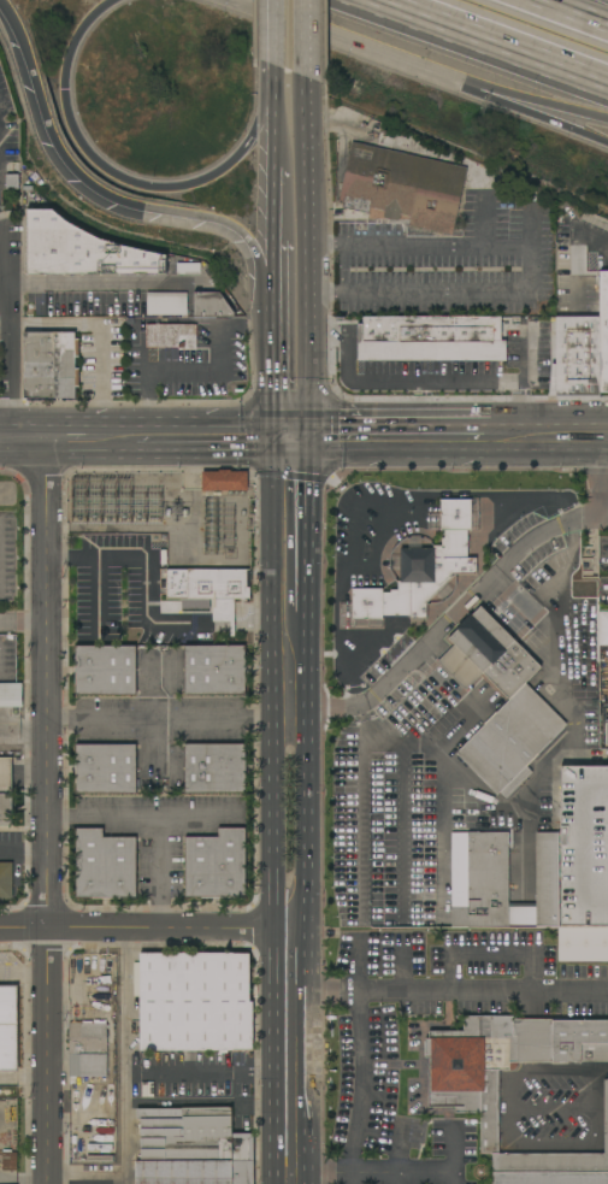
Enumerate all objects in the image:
road: (571, 13)
road: (278, 34)
road: (306, 37)
road: (501, 39)
road: (365, 42)
road: (278, 84)
traffic signals: (63, 90)
road: (544, 101)
road: (532, 108)
road: (264, 120)
road: (279, 135)
road: (596, 137)
road: (430, 149)
road: (92, 155)
road: (77, 172)
building: (402, 187)
road: (281, 206)
parking lot: (340, 224)
road: (595, 241)
road: (420, 247)
road: (311, 248)
building: (81, 251)
road: (265, 255)
road: (281, 255)
building: (188, 269)
road: (84, 285)
road: (466, 296)
building: (166, 302)
building: (211, 305)
road: (99, 330)
building: (425, 331)
building: (603, 331)
building: (171, 336)
road: (7, 341)
road: (281, 347)
building: (554, 349)
building: (51, 364)
road: (154, 370)
road: (444, 379)
road: (66, 423)
road: (414, 423)
road: (563, 423)
road: (22, 424)
road: (183, 424)
traffic signals: (279, 424)
road: (294, 424)
traffic signals: (308, 424)
road: (285, 440)
road: (300, 440)
road: (449, 454)
road: (214, 456)
traffic signals: (293, 456)
road: (92, 458)
road: (23, 459)
building: (224, 481)
road: (598, 487)
road: (531, 511)
power substation: (169, 513)
road: (293, 535)
road: (563, 570)
road: (144, 571)
building: (423, 571)
road: (349, 584)
building: (211, 590)
road: (512, 590)
road: (99, 595)
road: (449, 620)
road: (22, 622)
building: (604, 629)
building: (586, 638)
building: (105, 670)
building: (214, 670)
building: (11, 695)
building: (520, 695)
road: (150, 718)
road: (167, 721)
building: (444, 723)
building: (606, 734)
road: (423, 766)
building: (106, 768)
building: (214, 768)
road: (290, 768)
road: (353, 778)
building: (7, 795)
road: (43, 803)
road: (443, 819)
building: (584, 847)
building: (105, 865)
building: (216, 865)
building: (6, 880)
building: (500, 882)
road: (144, 926)
building: (583, 946)
road: (490, 955)
road: (290, 959)
road: (400, 962)
road: (22, 973)
road: (448, 989)
road: (129, 1000)
building: (195, 1001)
building: (8, 1029)
building: (87, 1049)
road: (360, 1060)
road: (208, 1073)
road: (22, 1079)
road: (290, 1088)
building: (464, 1095)
building: (99, 1125)
road: (125, 1129)
building: (193, 1148)
road: (453, 1156)
building: (8, 1161)
road: (84, 1173)
road: (374, 1173)
road: (22, 1178)
road: (395, 1178)
building: (550, 1178)

